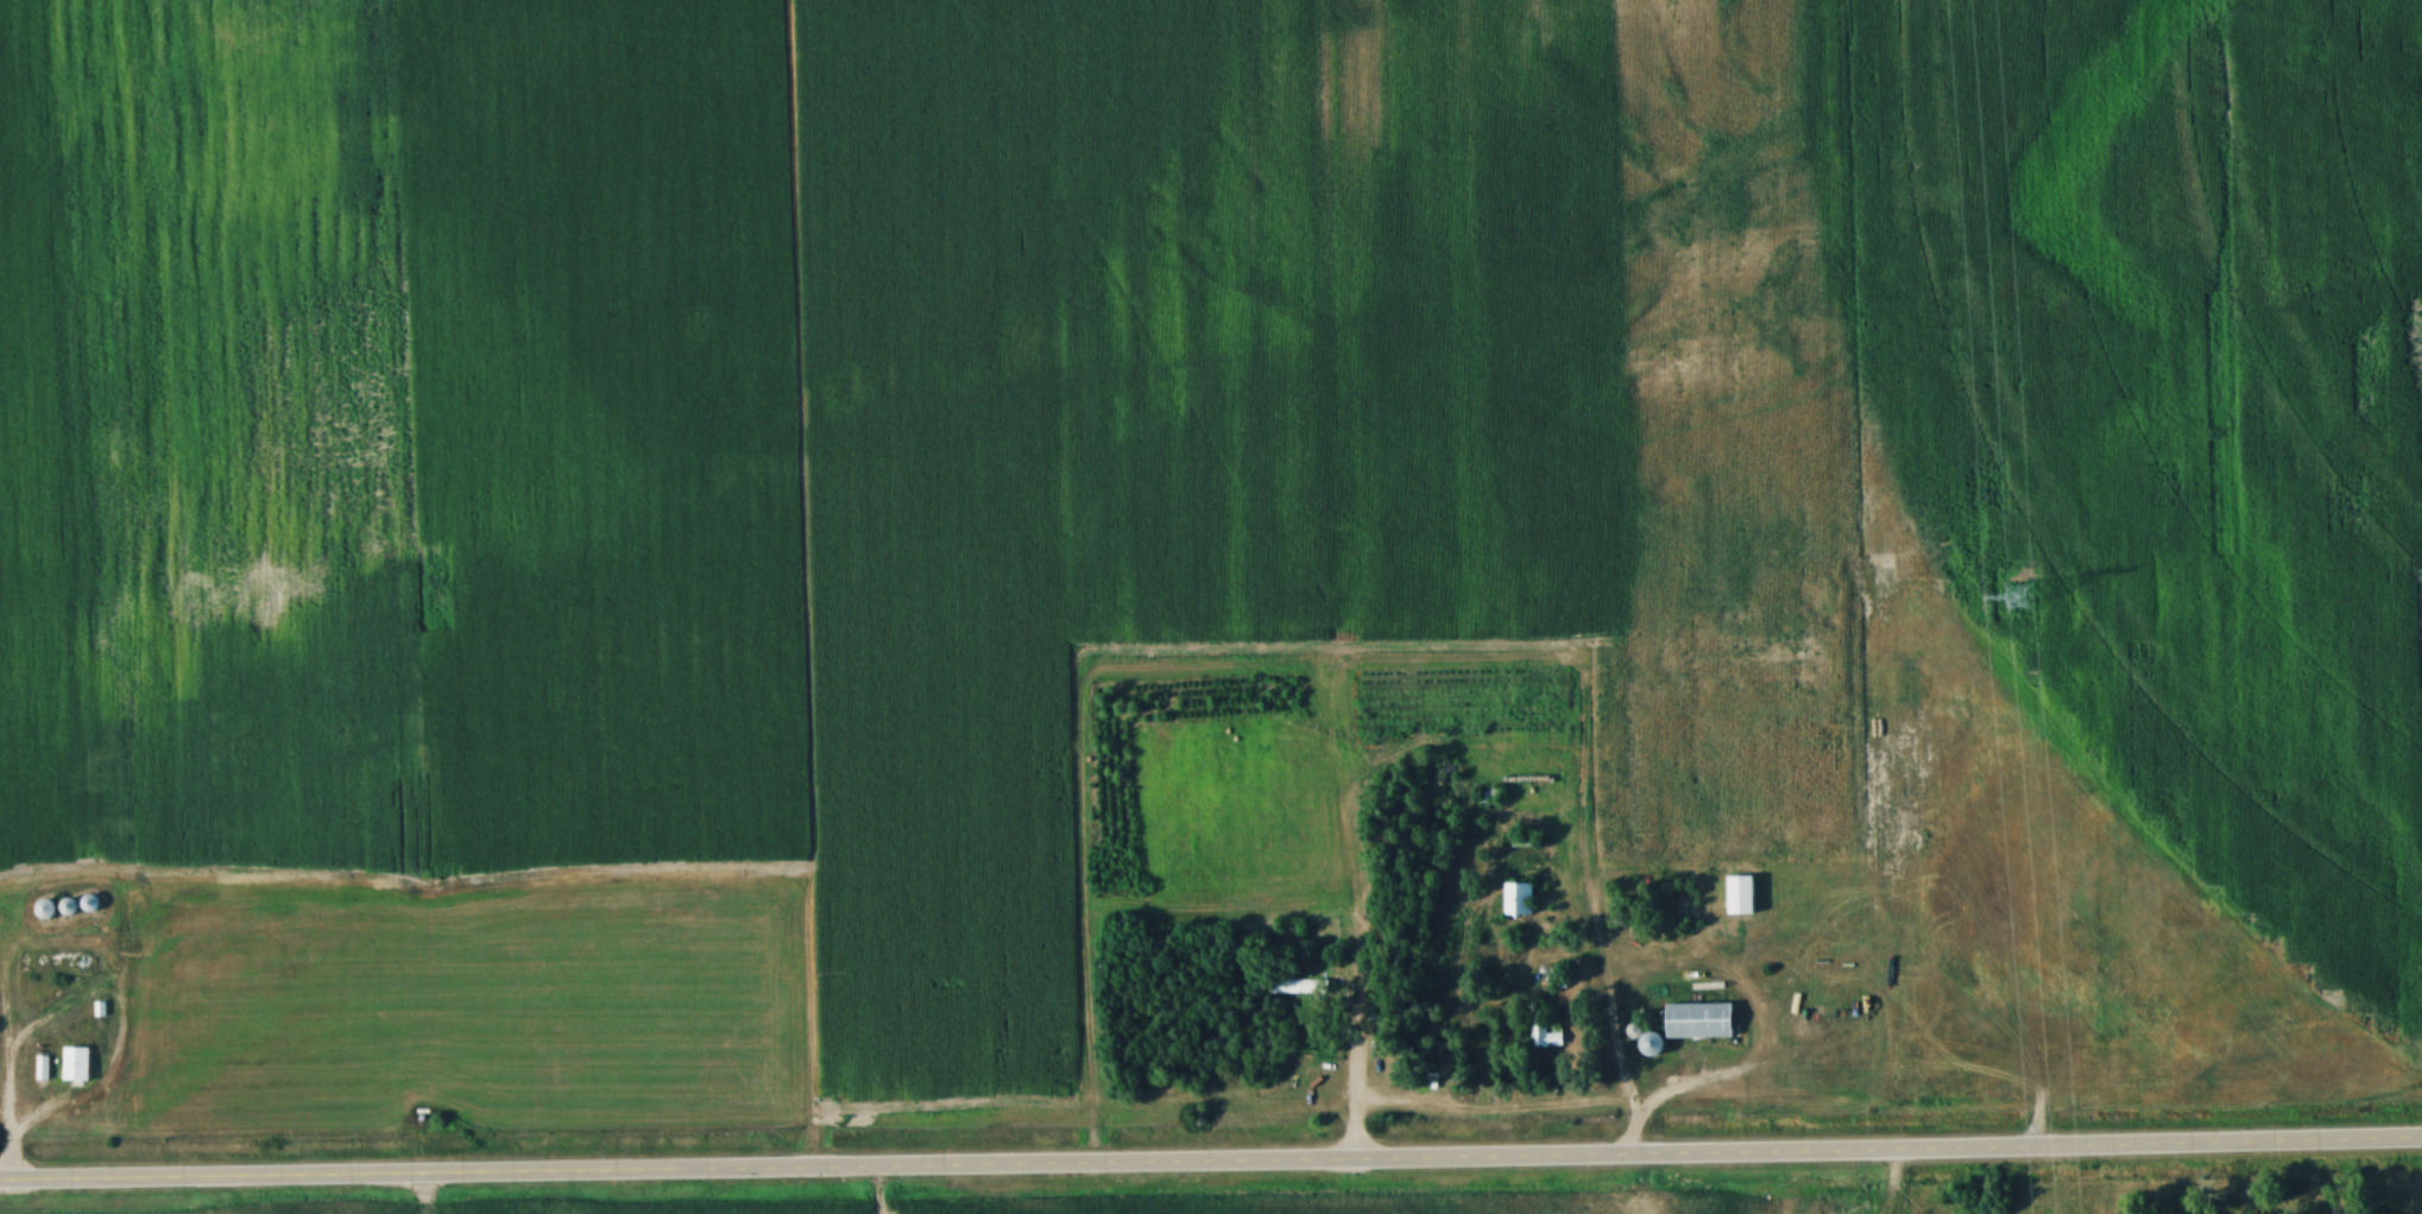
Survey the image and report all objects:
power tower: (2019, 597)
building: (1522, 840)
building: (1515, 900)
building: (89, 904)
building: (45, 911)
building: (1298, 987)
road: (71, 1010)
building: (1697, 1023)
building: (1546, 1036)
building: (40, 1069)
road: (1354, 1095)
road: (2, 1161)
road: (1211, 1169)

